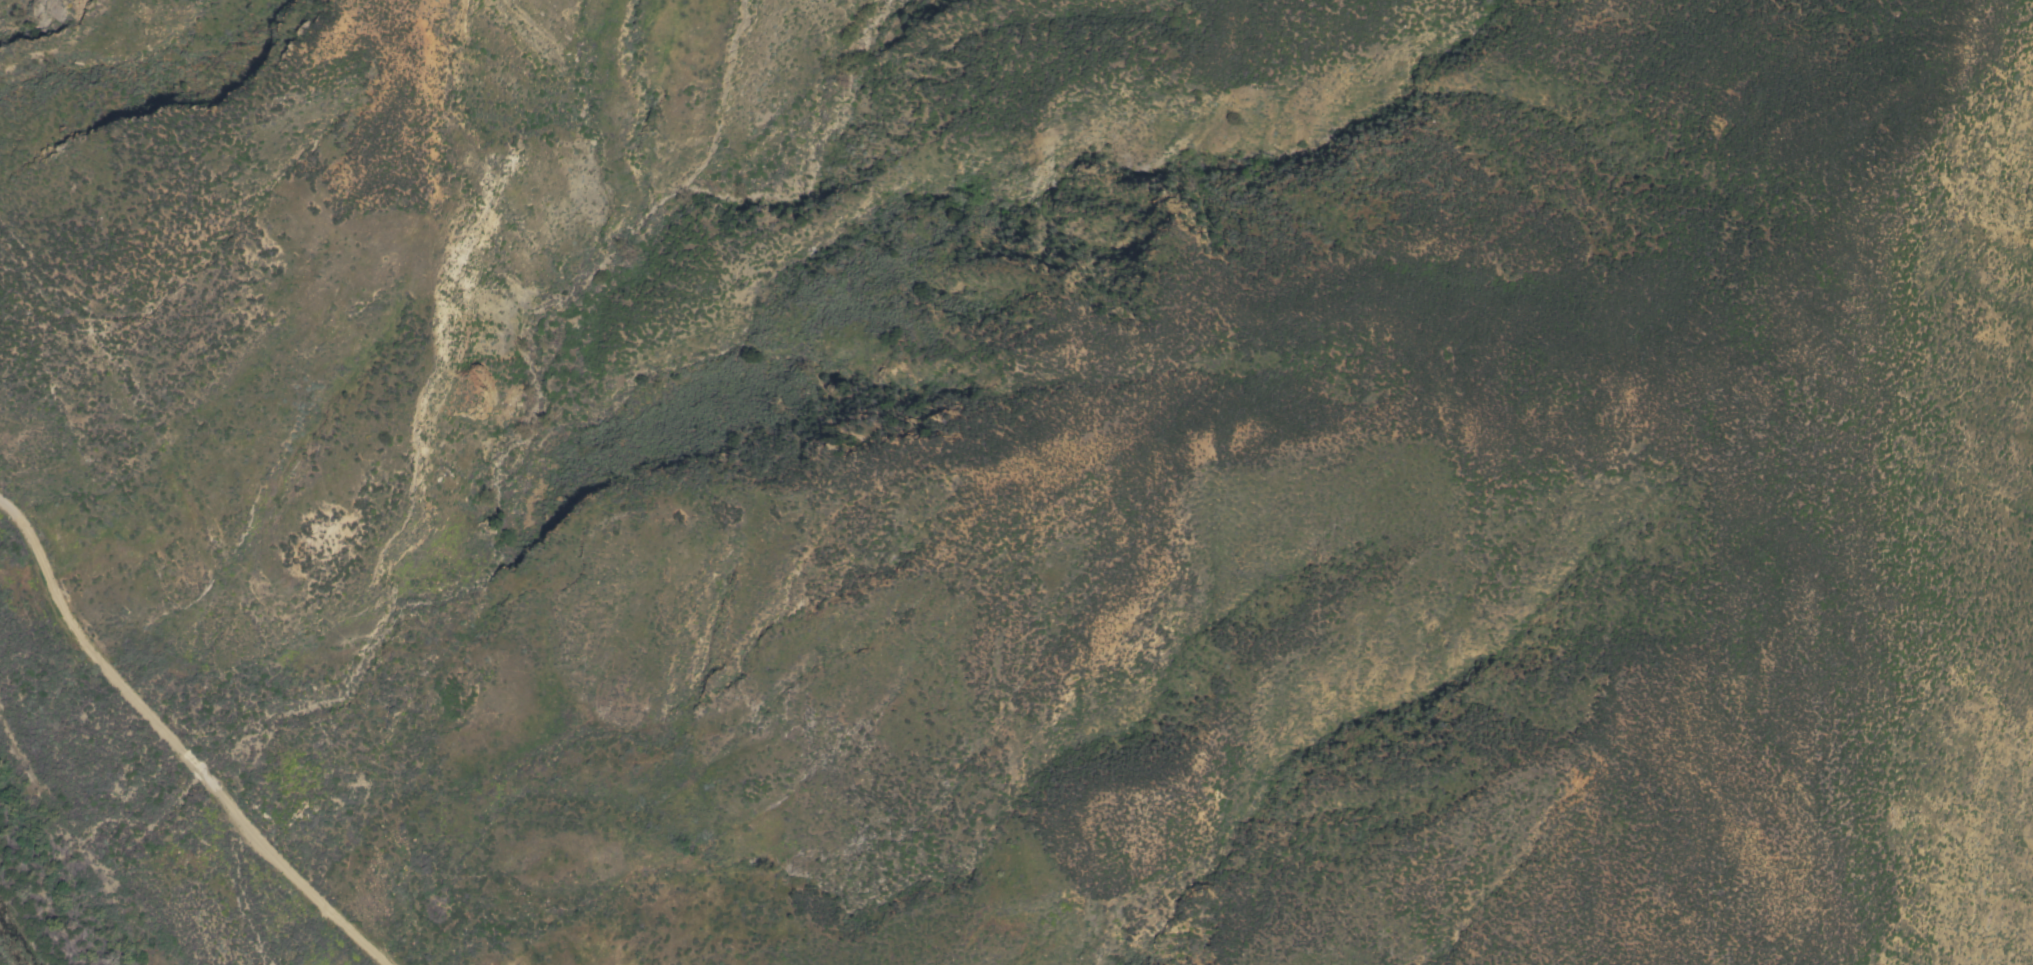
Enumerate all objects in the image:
road: (172, 748)

